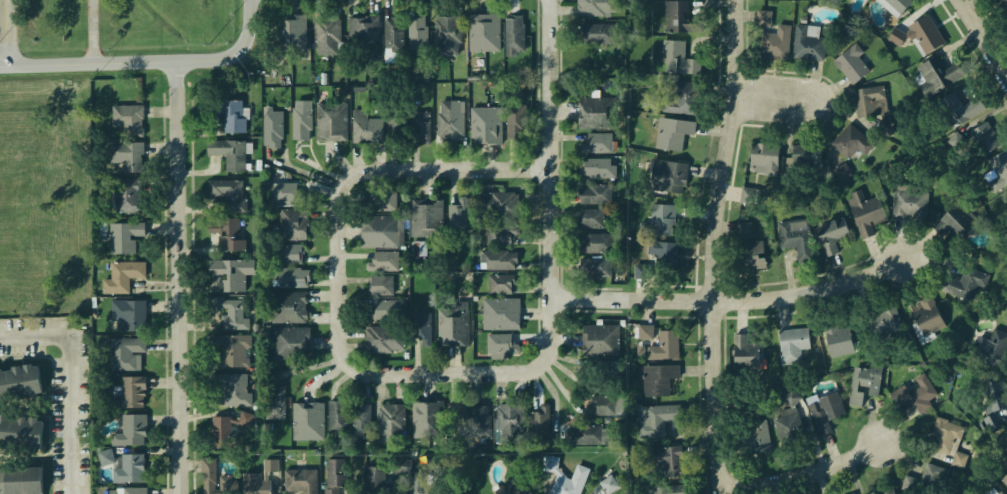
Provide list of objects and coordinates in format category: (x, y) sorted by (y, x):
building: (895, 5)
building: (595, 6)
building: (999, 7)
building: (677, 16)
building: (760, 16)
building: (1006, 22)
road: (97, 32)
building: (361, 32)
building: (512, 33)
building: (402, 34)
building: (923, 34)
road: (6, 35)
building: (599, 35)
road: (985, 35)
building: (290, 36)
building: (445, 36)
building: (896, 36)
building: (482, 38)
building: (325, 40)
building: (774, 41)
building: (805, 42)
building: (681, 60)
road: (150, 62)
building: (850, 63)
building: (936, 75)
road: (772, 76)
road: (772, 97)
building: (681, 99)
building: (868, 101)
building: (957, 107)
building: (595, 111)
building: (231, 116)
building: (129, 119)
building: (329, 124)
building: (397, 124)
building: (448, 125)
building: (484, 125)
building: (883, 126)
building: (301, 127)
building: (365, 127)
building: (271, 129)
building: (414, 129)
building: (518, 129)
road: (713, 129)
building: (672, 131)
building: (983, 136)
building: (597, 140)
building: (849, 141)
building: (125, 153)
building: (230, 154)
building: (806, 156)
building: (763, 158)
building: (597, 166)
road: (471, 168)
building: (997, 168)
building: (840, 170)
building: (672, 177)
building: (282, 191)
building: (229, 193)
building: (594, 193)
building: (748, 195)
building: (122, 196)
road: (556, 196)
building: (384, 200)
building: (910, 205)
building: (503, 210)
road: (697, 212)
building: (865, 212)
building: (591, 216)
building: (425, 218)
building: (460, 219)
building: (658, 219)
building: (950, 219)
building: (291, 224)
building: (742, 227)
building: (378, 230)
building: (225, 233)
building: (831, 233)
building: (793, 235)
building: (122, 239)
road: (539, 240)
building: (501, 241)
building: (596, 243)
road: (718, 247)
building: (661, 250)
building: (750, 253)
building: (288, 255)
building: (381, 264)
road: (538, 265)
building: (498, 266)
building: (595, 266)
road: (344, 269)
building: (639, 271)
building: (229, 275)
building: (121, 276)
building: (289, 276)
road: (185, 278)
building: (962, 284)
building: (384, 288)
road: (537, 288)
building: (501, 290)
road: (736, 298)
building: (287, 307)
building: (121, 313)
building: (380, 313)
building: (500, 313)
building: (228, 315)
road: (537, 315)
building: (927, 316)
building: (881, 317)
building: (646, 331)
building: (421, 333)
building: (456, 333)
road: (533, 336)
road: (567, 336)
building: (836, 337)
building: (598, 339)
building: (383, 342)
building: (289, 343)
building: (497, 343)
building: (663, 344)
building: (789, 344)
building: (988, 346)
building: (123, 352)
building: (745, 352)
building: (230, 353)
road: (565, 358)
road: (698, 368)
road: (452, 372)
building: (605, 372)
building: (657, 377)
road: (72, 378)
road: (575, 378)
building: (863, 384)
building: (24, 385)
road: (547, 386)
building: (232, 389)
road: (533, 389)
building: (128, 392)
road: (562, 392)
building: (922, 392)
building: (995, 392)
building: (899, 396)
building: (791, 397)
building: (270, 402)
building: (605, 403)
building: (826, 411)
building: (456, 417)
building: (420, 419)
building: (513, 419)
building: (655, 420)
building: (989, 420)
building: (348, 422)
building: (389, 422)
building: (544, 423)
building: (307, 424)
building: (477, 424)
building: (785, 424)
building: (230, 429)
building: (129, 430)
building: (21, 435)
building: (756, 435)
building: (587, 438)
building: (946, 439)
road: (702, 448)
road: (833, 448)
building: (106, 457)
building: (665, 459)
building: (127, 469)
road: (806, 474)
building: (236, 477)
building: (344, 477)
building: (393, 477)
building: (303, 478)
building: (926, 479)
building: (1004, 480)
building: (24, 481)
building: (568, 482)
building: (421, 483)
building: (607, 483)
building: (514, 486)
building: (887, 489)
building: (126, 490)
building: (670, 490)
building: (995, 490)
building: (850, 493)
building: (854, 493)

